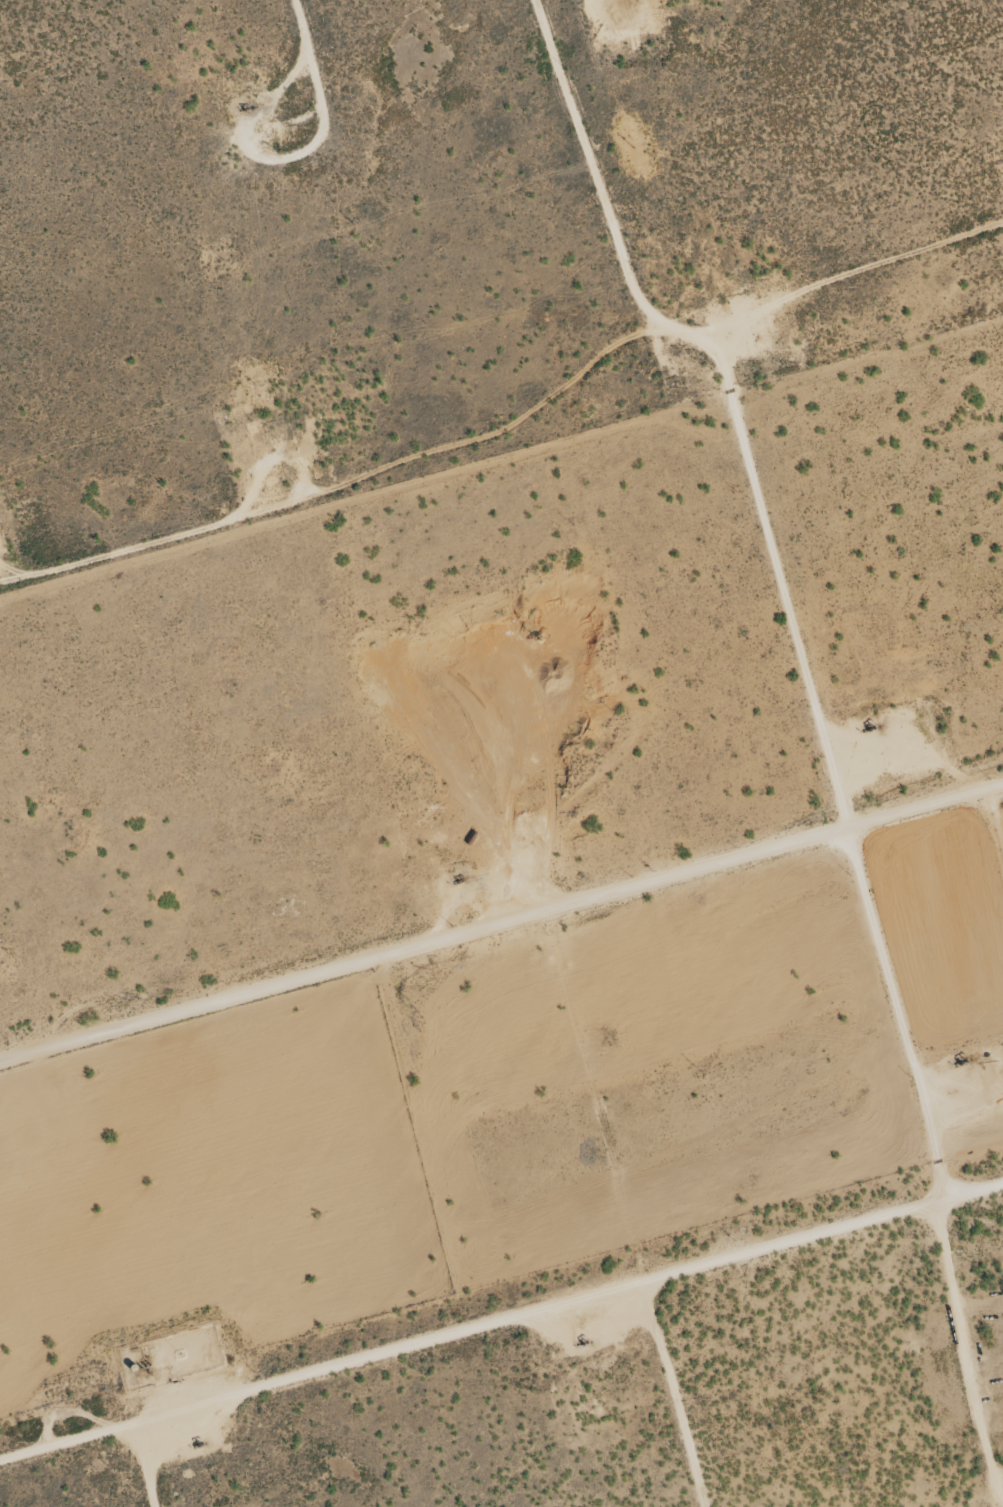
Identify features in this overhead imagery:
road: (500, 1312)
road: (674, 1390)

